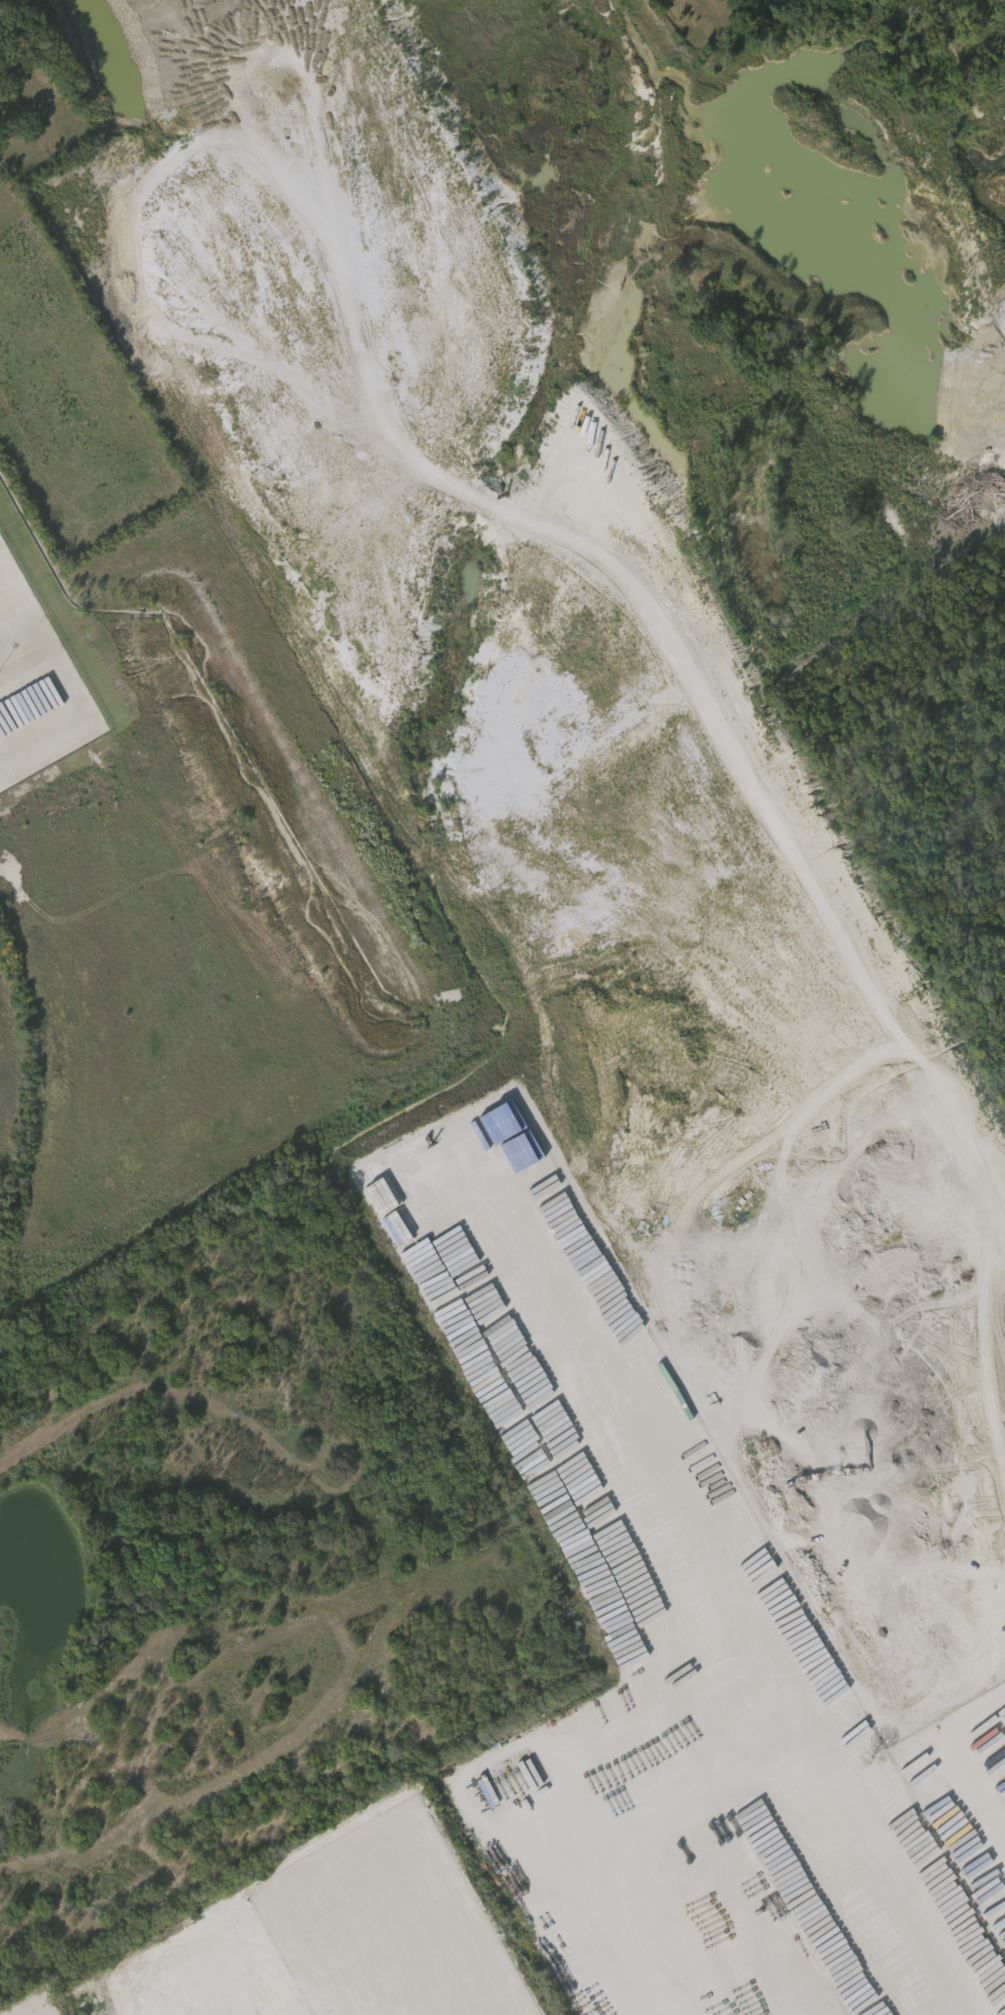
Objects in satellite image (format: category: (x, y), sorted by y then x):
road: (977, 112)
road: (50, 688)

